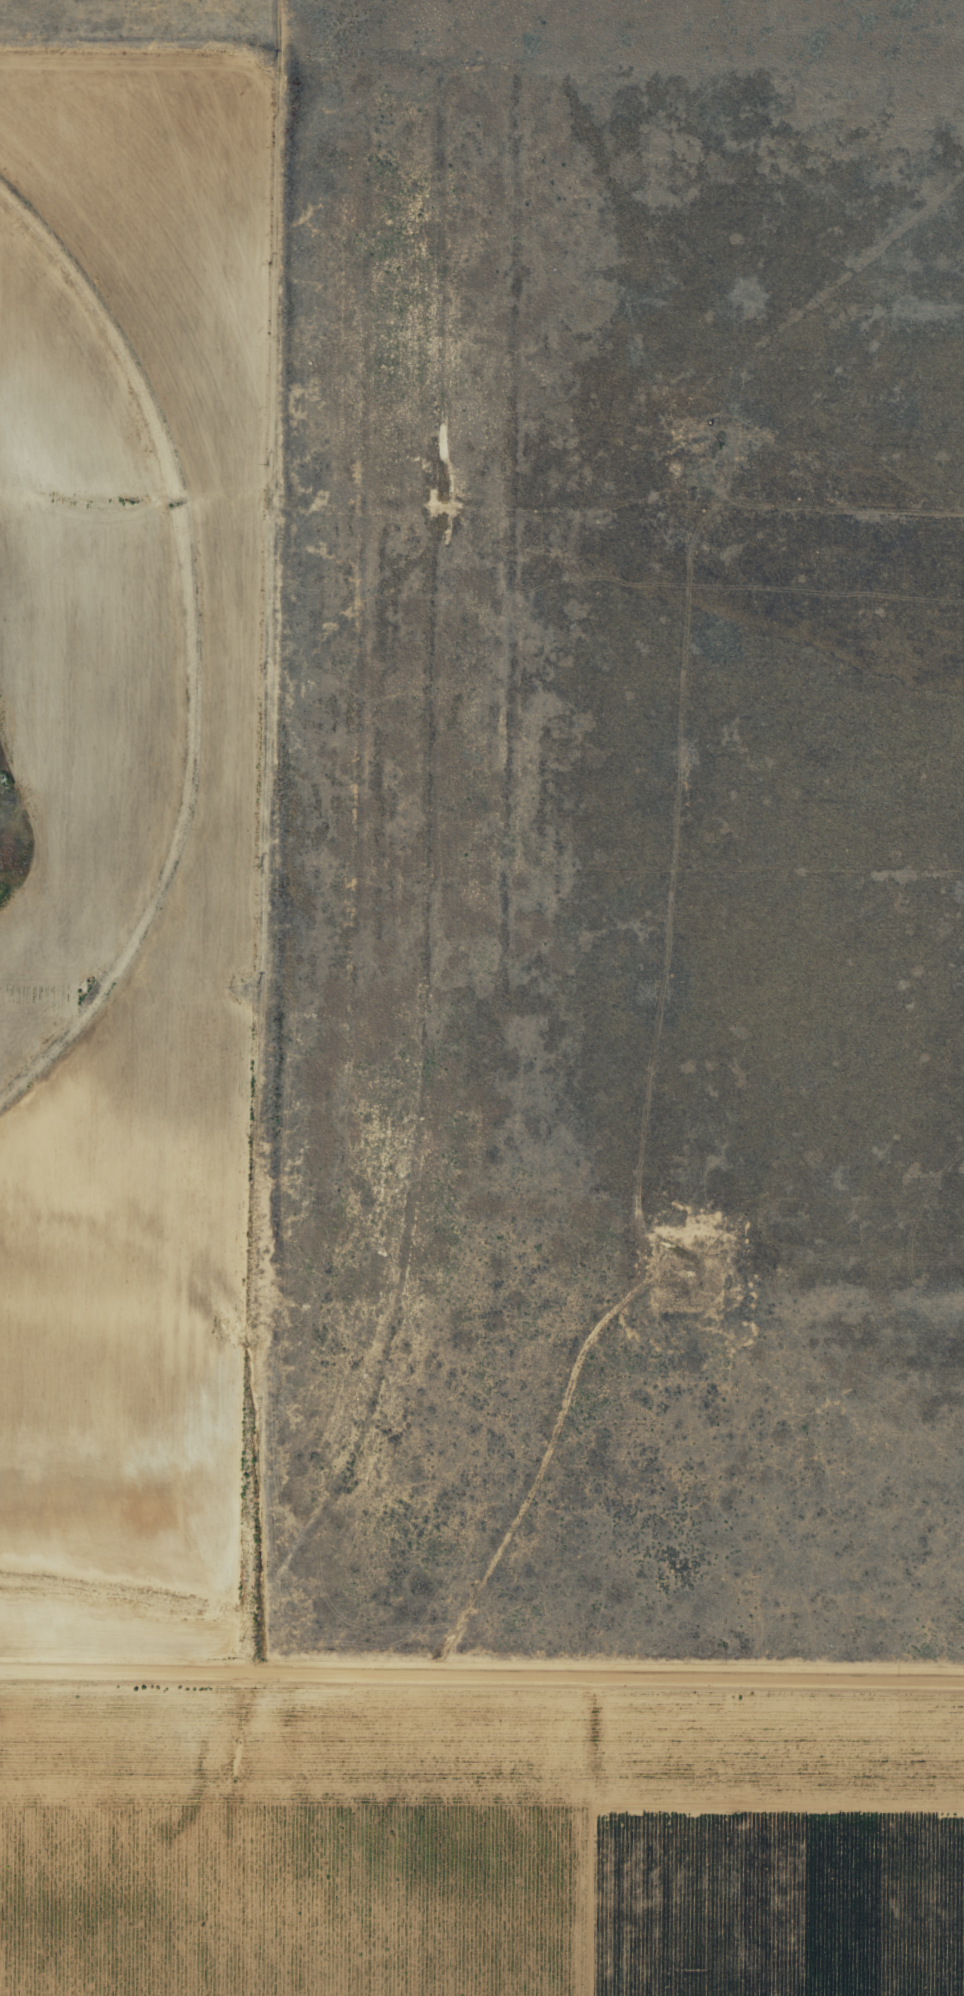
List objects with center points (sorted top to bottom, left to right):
road: (481, 88)
road: (481, 1674)

